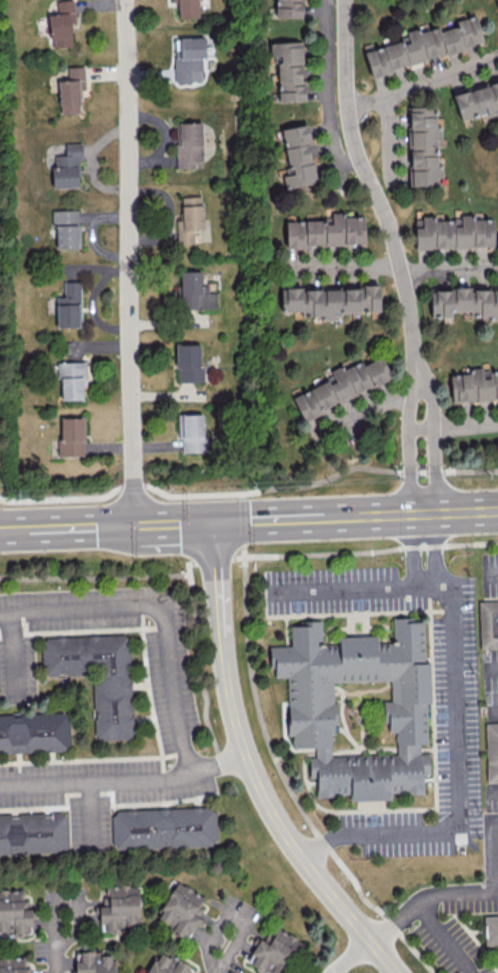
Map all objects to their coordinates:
building: (497, 1)
building: (187, 8)
building: (288, 8)
building: (61, 23)
building: (423, 45)
building: (190, 57)
building: (288, 69)
road: (424, 73)
building: (71, 89)
building: (477, 100)
building: (189, 144)
building: (423, 146)
building: (297, 156)
building: (66, 166)
road: (374, 196)
building: (189, 219)
building: (66, 228)
building: (325, 231)
building: (454, 233)
road: (128, 261)
road: (348, 265)
road: (448, 266)
building: (195, 291)
building: (330, 300)
building: (464, 300)
building: (68, 305)
building: (188, 362)
building: (71, 379)
building: (343, 385)
building: (473, 386)
road: (432, 402)
road: (406, 405)
road: (374, 406)
road: (465, 422)
road: (418, 424)
building: (191, 432)
building: (71, 436)
road: (407, 468)
road: (432, 468)
road: (321, 479)
road: (131, 485)
road: (241, 495)
road: (60, 496)
road: (249, 519)
traffic signals: (212, 521)
road: (242, 522)
road: (434, 546)
road: (412, 547)
road: (365, 553)
road: (212, 559)
road: (490, 573)
road: (102, 576)
road: (348, 587)
road: (215, 594)
road: (191, 597)
road: (164, 608)
building: (488, 623)
road: (491, 668)
building: (96, 676)
building: (312, 707)
road: (495, 713)
building: (34, 732)
building: (491, 751)
road: (458, 768)
road: (124, 780)
road: (285, 781)
road: (494, 790)
building: (163, 827)
building: (33, 832)
road: (285, 833)
road: (491, 851)
road: (494, 891)
road: (423, 896)
building: (119, 907)
building: (182, 910)
building: (14, 912)
building: (490, 929)
road: (442, 938)
building: (274, 952)
road: (59, 953)
road: (225, 956)
road: (351, 956)
building: (94, 962)
building: (166, 964)
building: (13, 965)

